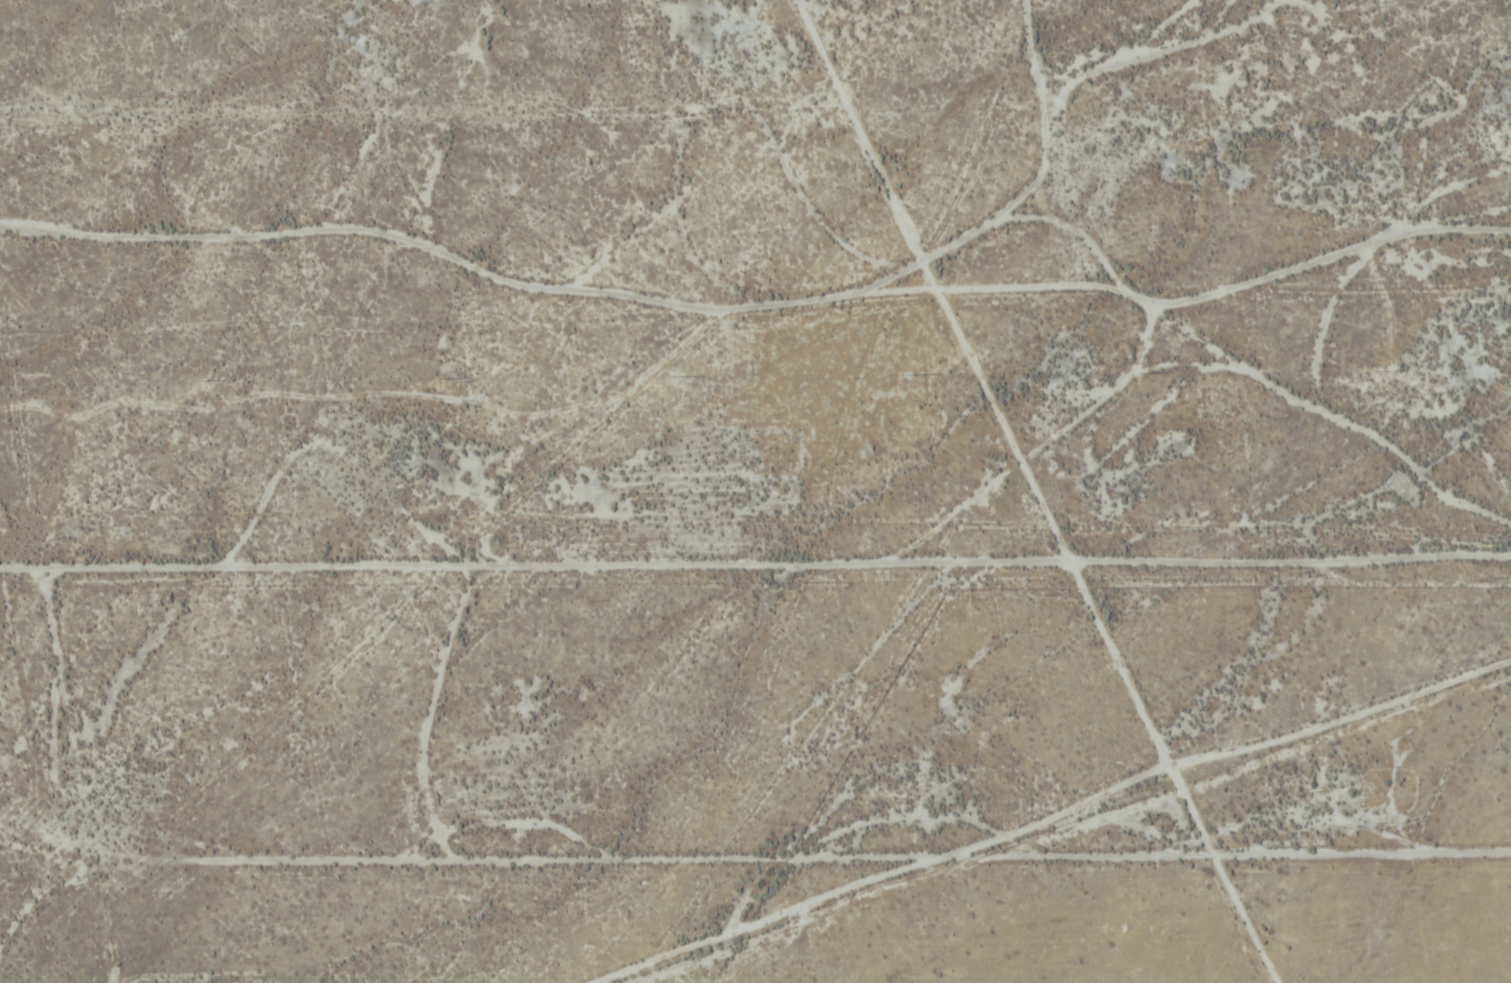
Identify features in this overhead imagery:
road: (534, 283)
road: (1161, 293)

